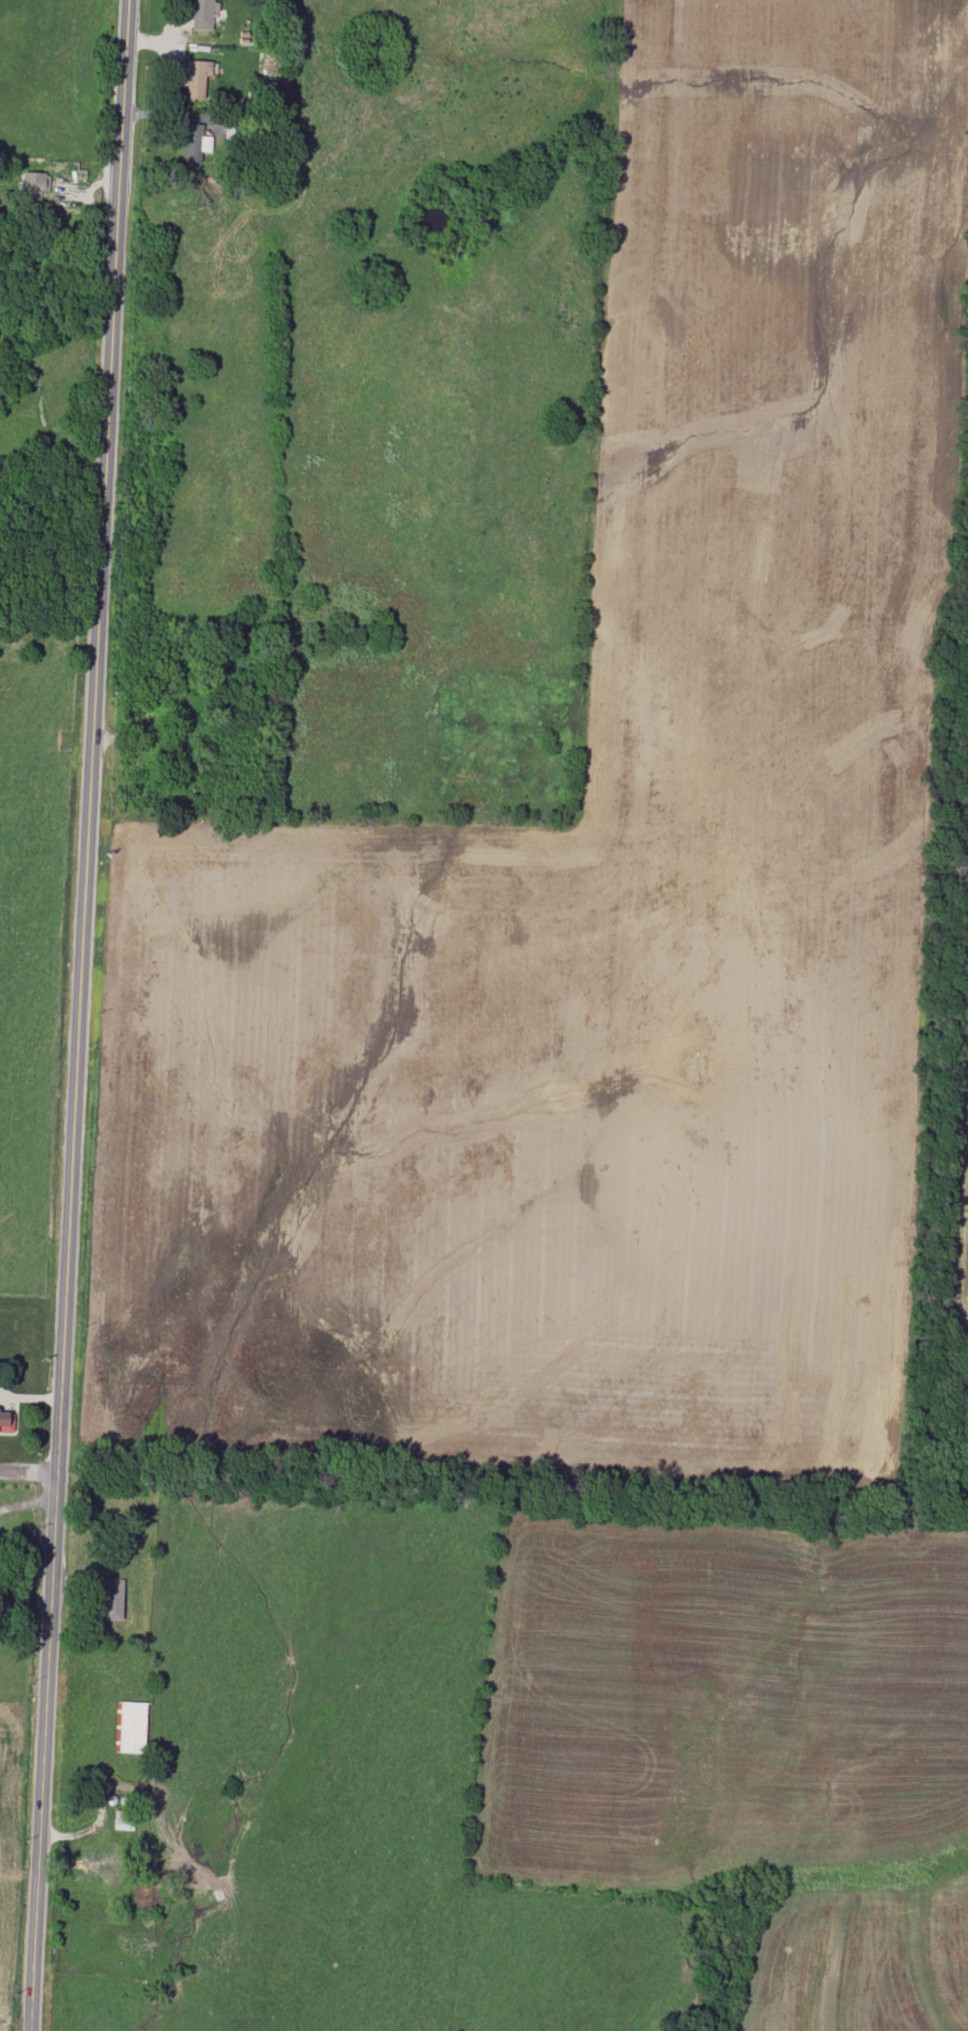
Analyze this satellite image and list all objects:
building: (202, 14)
building: (195, 78)
building: (194, 142)
building: (34, 182)
road: (46, 403)
crop: (601, 882)
road: (80, 1015)
crop: (957, 1097)
road: (30, 1397)
building: (6, 1421)
road: (29, 1470)
crop: (965, 1485)
road: (27, 1503)
building: (111, 1599)
building: (131, 1727)
crop: (741, 1744)
crop: (13, 1848)

